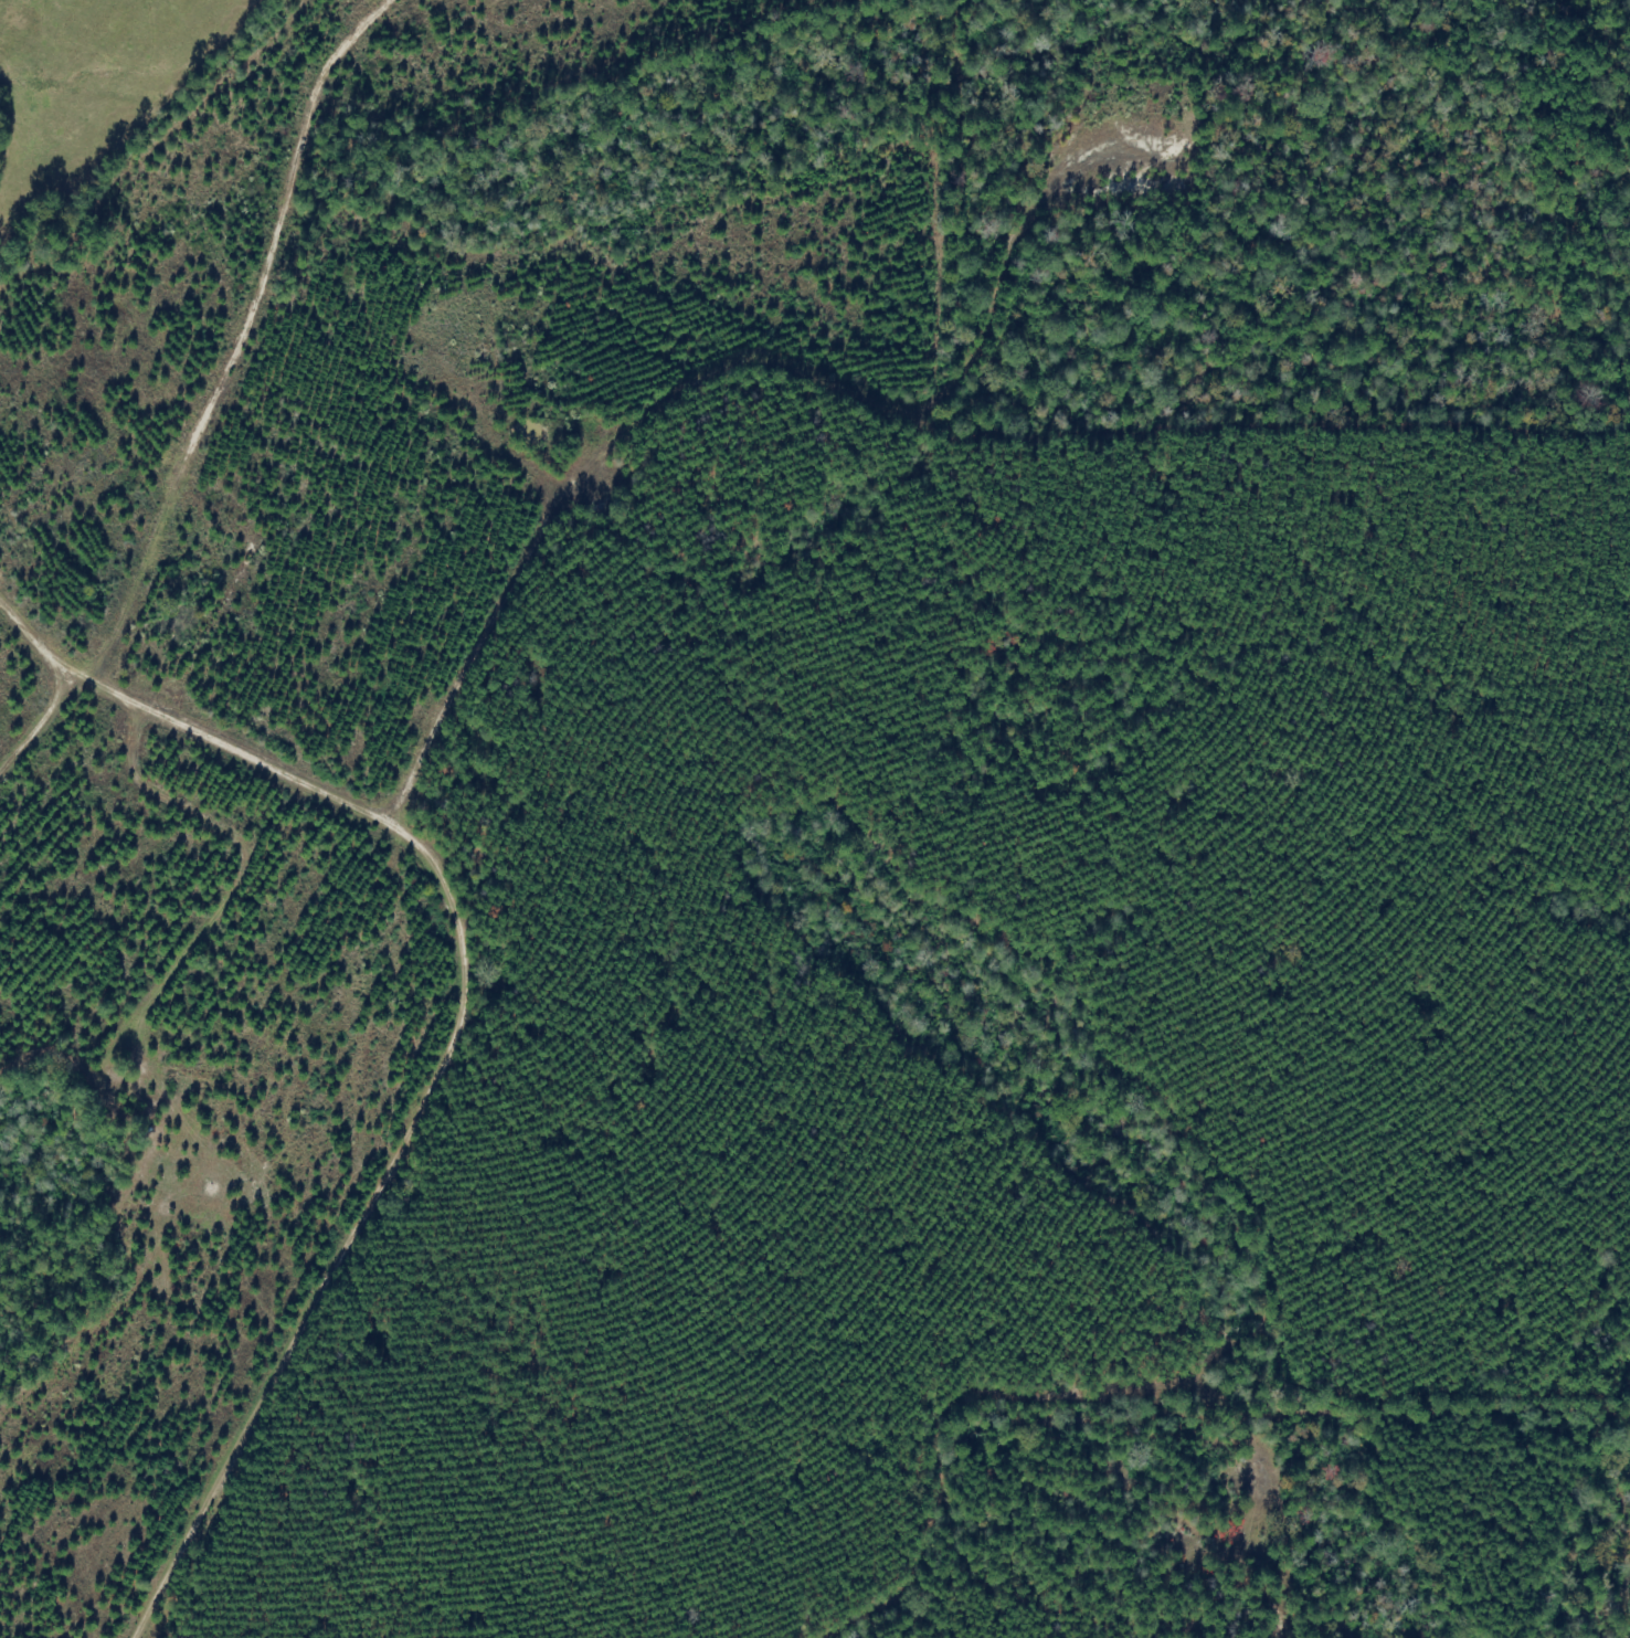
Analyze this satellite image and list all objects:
road: (470, 1013)

